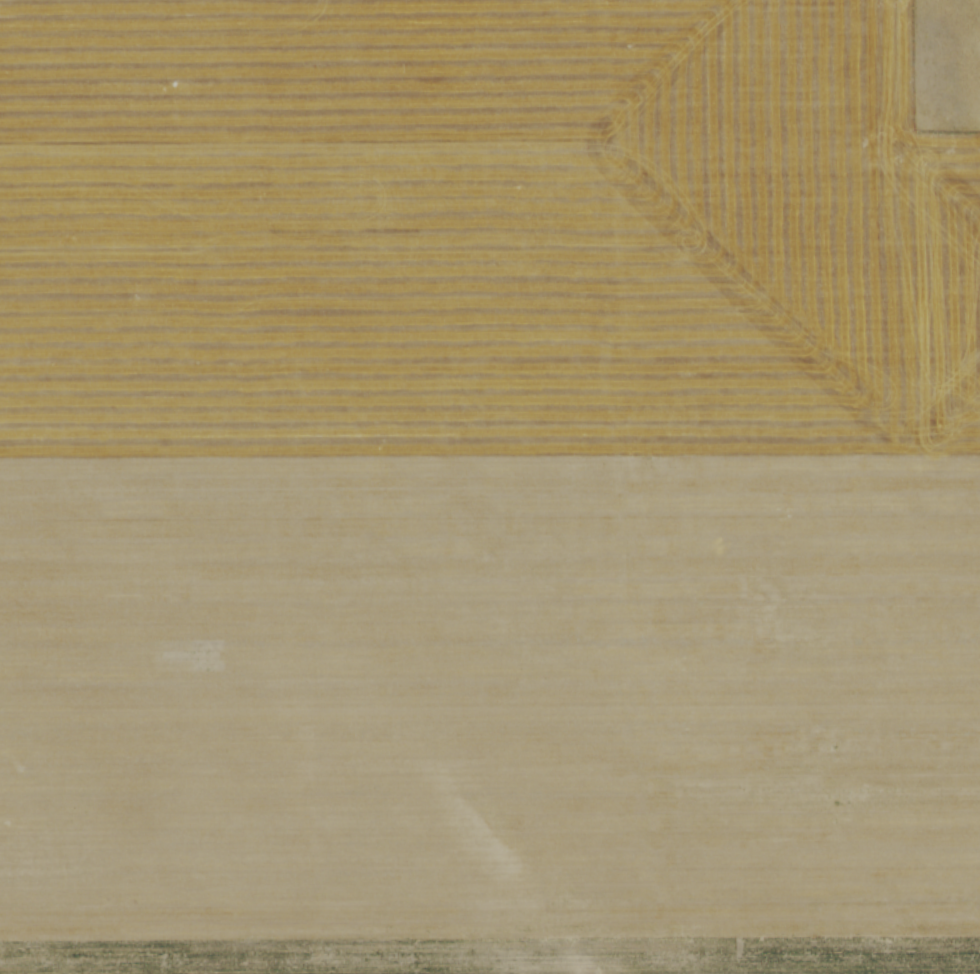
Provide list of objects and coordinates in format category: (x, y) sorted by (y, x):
crop: (502, 955)

